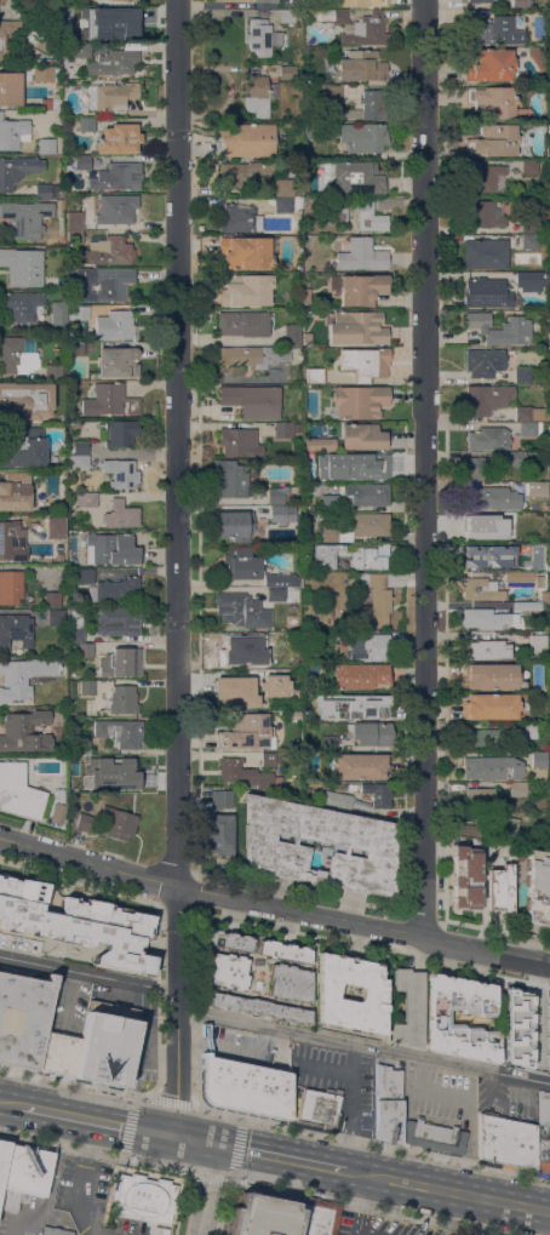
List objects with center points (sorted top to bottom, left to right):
building: (260, 0)
building: (480, 0)
building: (361, 2)
building: (520, 2)
building: (22, 7)
building: (287, 16)
building: (109, 22)
building: (357, 27)
building: (493, 28)
building: (262, 36)
building: (2, 40)
building: (79, 48)
building: (114, 62)
building: (360, 65)
building: (492, 65)
building: (288, 72)
building: (47, 74)
building: (10, 87)
building: (332, 92)
building: (110, 95)
building: (259, 95)
building: (494, 102)
building: (51, 103)
building: (369, 105)
building: (285, 116)
building: (86, 124)
building: (311, 130)
building: (13, 132)
building: (363, 136)
building: (118, 138)
building: (247, 138)
building: (493, 141)
building: (47, 145)
building: (82, 161)
building: (549, 162)
building: (529, 166)
building: (17, 168)
building: (246, 172)
building: (356, 173)
building: (116, 176)
building: (485, 178)
building: (283, 187)
building: (46, 190)
building: (298, 201)
building: (549, 202)
building: (282, 204)
building: (116, 207)
building: (337, 212)
building: (482, 213)
building: (27, 217)
building: (239, 218)
building: (74, 219)
building: (529, 222)
building: (333, 227)
building: (74, 235)
building: (529, 240)
building: (107, 251)
building: (246, 251)
building: (485, 252)
building: (362, 255)
building: (22, 267)
building: (531, 280)
building: (110, 284)
building: (361, 288)
building: (246, 290)
building: (486, 292)
building: (304, 295)
building: (19, 305)
building: (58, 311)
building: (81, 311)
building: (244, 322)
building: (115, 325)
building: (355, 327)
building: (516, 327)
building: (292, 335)
building: (306, 338)
building: (76, 349)
building: (17, 354)
building: (251, 355)
building: (118, 361)
building: (483, 361)
building: (365, 362)
building: (52, 370)
building: (523, 373)
building: (314, 374)
building: (28, 398)
building: (486, 398)
building: (109, 400)
building: (252, 400)
building: (359, 400)
building: (529, 413)
building: (528, 428)
building: (283, 429)
building: (120, 433)
building: (362, 435)
building: (488, 438)
building: (236, 440)
building: (320, 444)
building: (22, 445)
building: (79, 447)
building: (517, 458)
building: (342, 459)
building: (78, 461)
building: (372, 463)
building: (320, 467)
road: (422, 467)
building: (476, 467)
building: (120, 473)
building: (229, 479)
building: (537, 488)
building: (15, 491)
building: (369, 493)
building: (275, 494)
building: (492, 497)
building: (86, 499)
building: (328, 503)
building: (282, 513)
building: (120, 514)
building: (516, 515)
building: (538, 518)
building: (57, 524)
building: (369, 524)
building: (235, 525)
building: (481, 528)
building: (330, 533)
building: (12, 539)
building: (533, 544)
building: (111, 548)
building: (517, 548)
building: (351, 554)
building: (59, 555)
building: (482, 556)
building: (244, 562)
road: (176, 567)
building: (84, 576)
building: (512, 576)
building: (282, 578)
building: (539, 581)
building: (10, 585)
building: (115, 589)
building: (480, 589)
building: (276, 594)
building: (51, 598)
building: (372, 599)
building: (527, 606)
building: (241, 610)
building: (56, 616)
building: (486, 618)
building: (118, 621)
building: (75, 623)
building: (15, 629)
building: (538, 645)
building: (365, 646)
building: (85, 648)
building: (239, 648)
building: (480, 650)
building: (269, 661)
building: (120, 662)
building: (23, 675)
building: (360, 675)
building: (491, 675)
building: (269, 676)
building: (86, 686)
building: (234, 694)
building: (260, 696)
building: (122, 699)
building: (354, 704)
building: (491, 705)
building: (529, 730)
building: (24, 731)
building: (120, 731)
building: (246, 731)
building: (369, 732)
building: (480, 737)
building: (330, 743)
building: (82, 745)
building: (265, 757)
building: (538, 759)
building: (360, 765)
building: (549, 765)
building: (119, 767)
building: (493, 767)
building: (245, 773)
building: (81, 781)
building: (41, 783)
building: (517, 788)
building: (16, 794)
building: (56, 795)
building: (479, 796)
building: (222, 797)
building: (378, 797)
building: (336, 799)
building: (365, 802)
building: (58, 813)
building: (84, 822)
building: (119, 823)
building: (491, 827)
building: (218, 834)
building: (275, 846)
building: (464, 877)
building: (537, 886)
building: (502, 887)
road: (273, 904)
road: (156, 919)
building: (79, 922)
building: (225, 940)
building: (283, 950)
building: (256, 961)
building: (224, 971)
building: (288, 982)
building: (369, 994)
building: (257, 1007)
building: (408, 1007)
building: (545, 1013)
building: (22, 1018)
building: (437, 1019)
building: (515, 1020)
road: (271, 1025)
building: (104, 1044)
parking lot: (245, 1046)
building: (57, 1053)
parking lot: (337, 1081)
road: (73, 1082)
building: (245, 1088)
parking lot: (439, 1097)
parking lot: (505, 1099)
road: (167, 1100)
road: (10, 1103)
building: (388, 1103)
road: (350, 1107)
building: (319, 1108)
road: (93, 1120)
road: (127, 1126)
building: (542, 1132)
parking lot: (542, 1132)
traffic signals: (168, 1134)
building: (432, 1137)
road: (190, 1139)
road: (369, 1142)
building: (505, 1143)
traffic signals: (213, 1144)
road: (96, 1151)
building: (2, 1156)
road: (276, 1157)
road: (231, 1166)
road: (354, 1173)
building: (23, 1174)
road: (78, 1187)
road: (205, 1189)
road: (459, 1193)
parking lot: (87, 1194)
building: (143, 1197)
road: (361, 1206)
road: (368, 1207)
building: (262, 1216)
road: (476, 1216)
building: (316, 1217)
building: (55, 1231)
road: (365, 1233)
building: (497, 1234)

